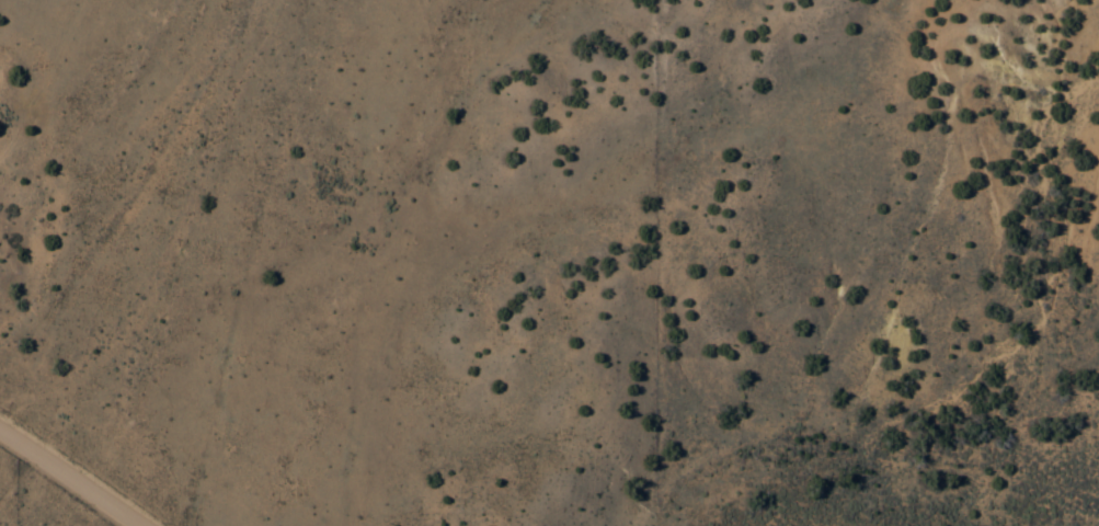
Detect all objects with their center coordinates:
road: (68, 479)

